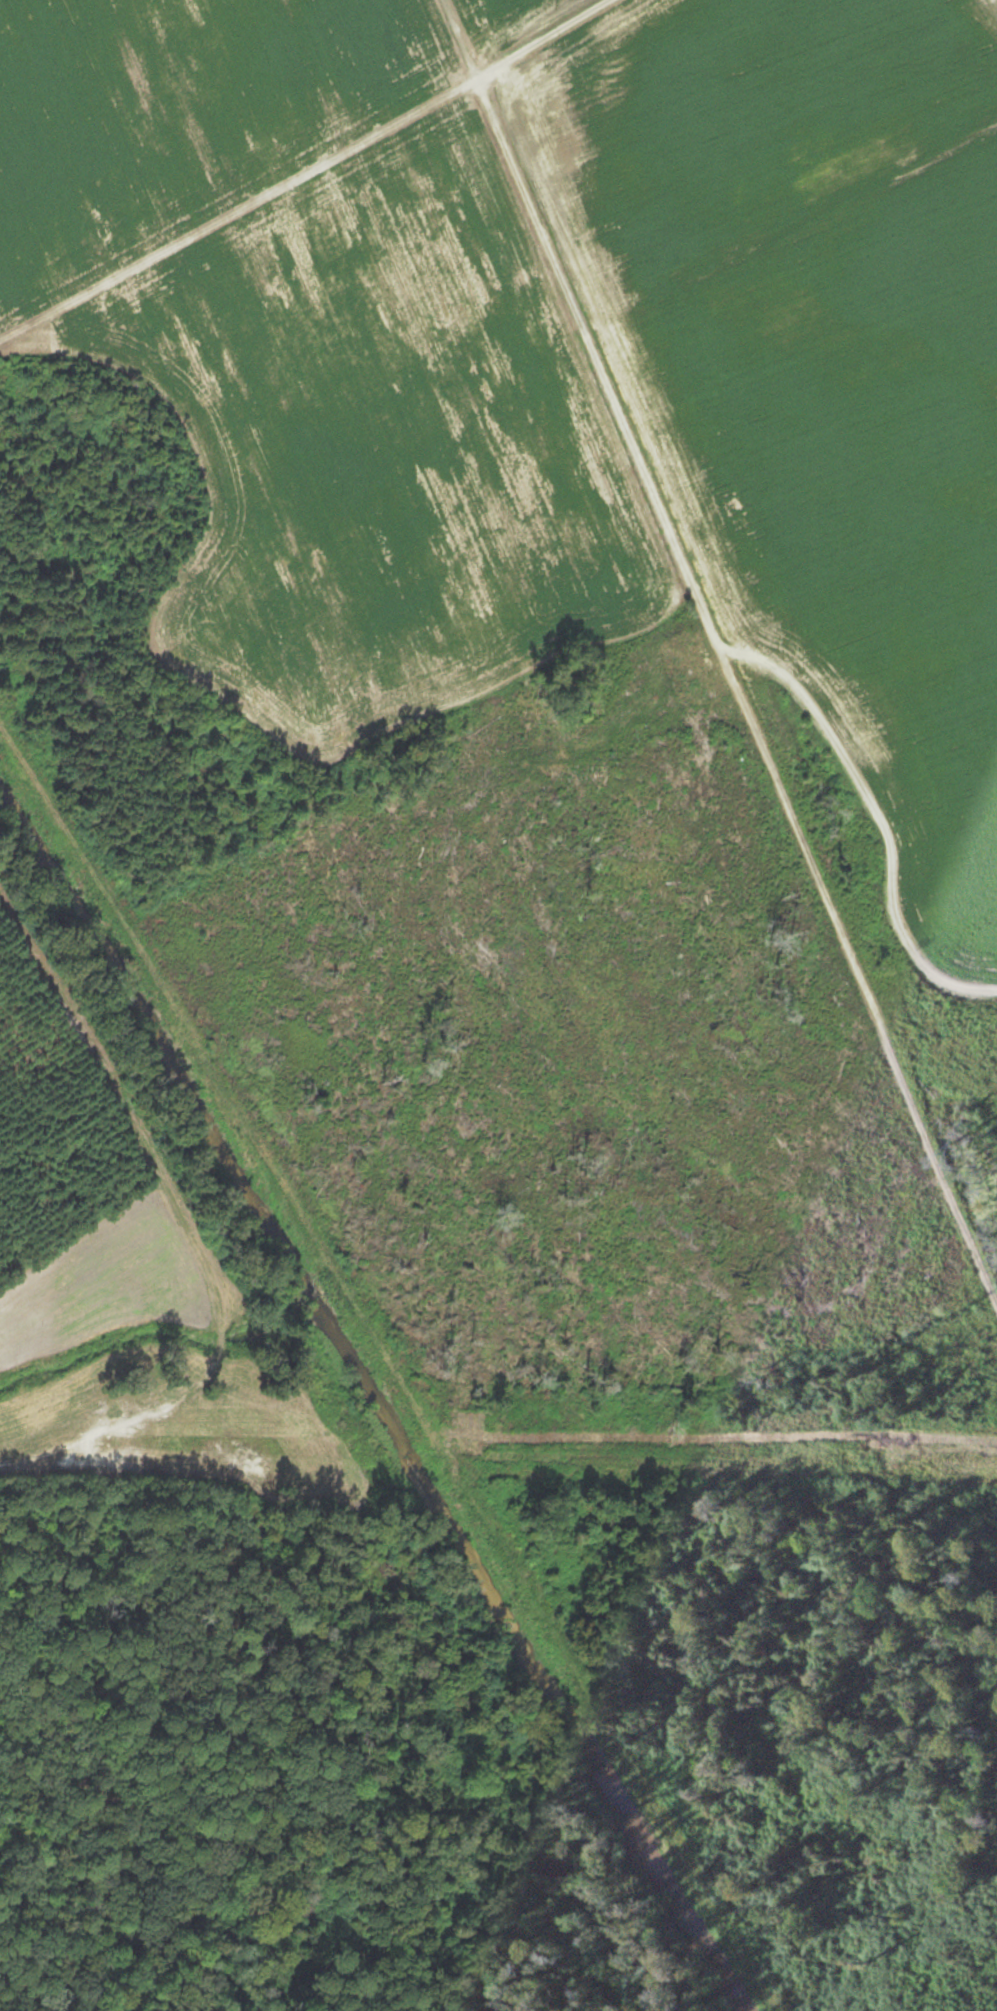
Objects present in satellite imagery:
road: (580, 64)
road: (745, 582)
power tower: (109, 1442)
power tower: (453, 1447)
power tower: (892, 1453)

